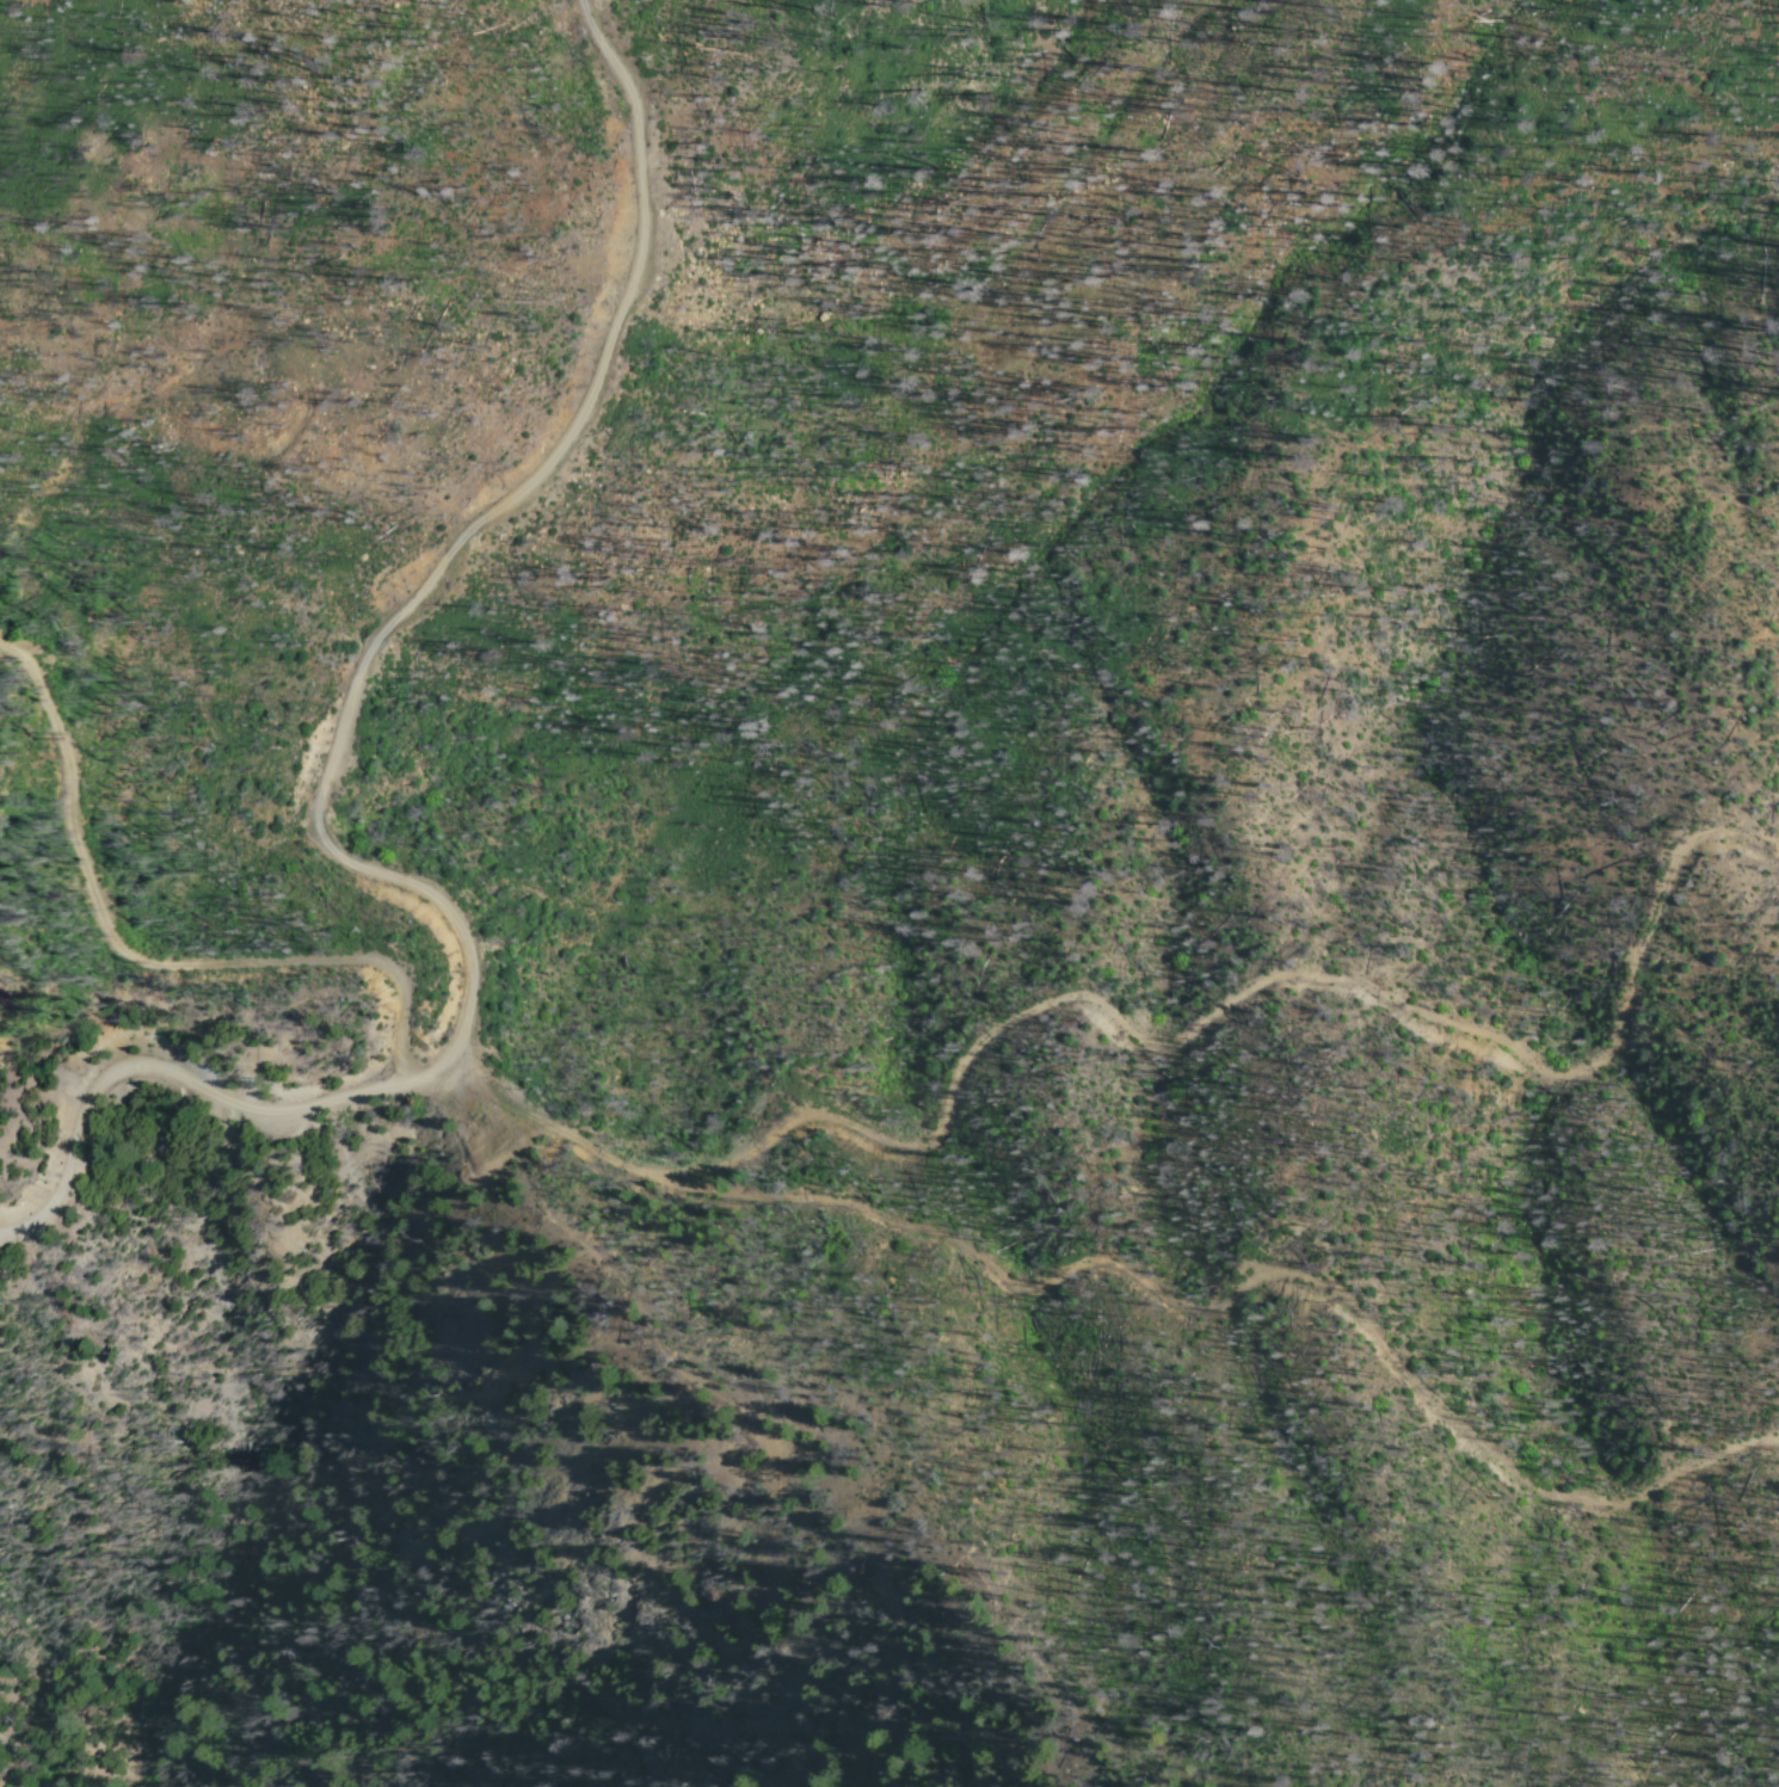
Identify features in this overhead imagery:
road: (327, 803)
road: (143, 966)

